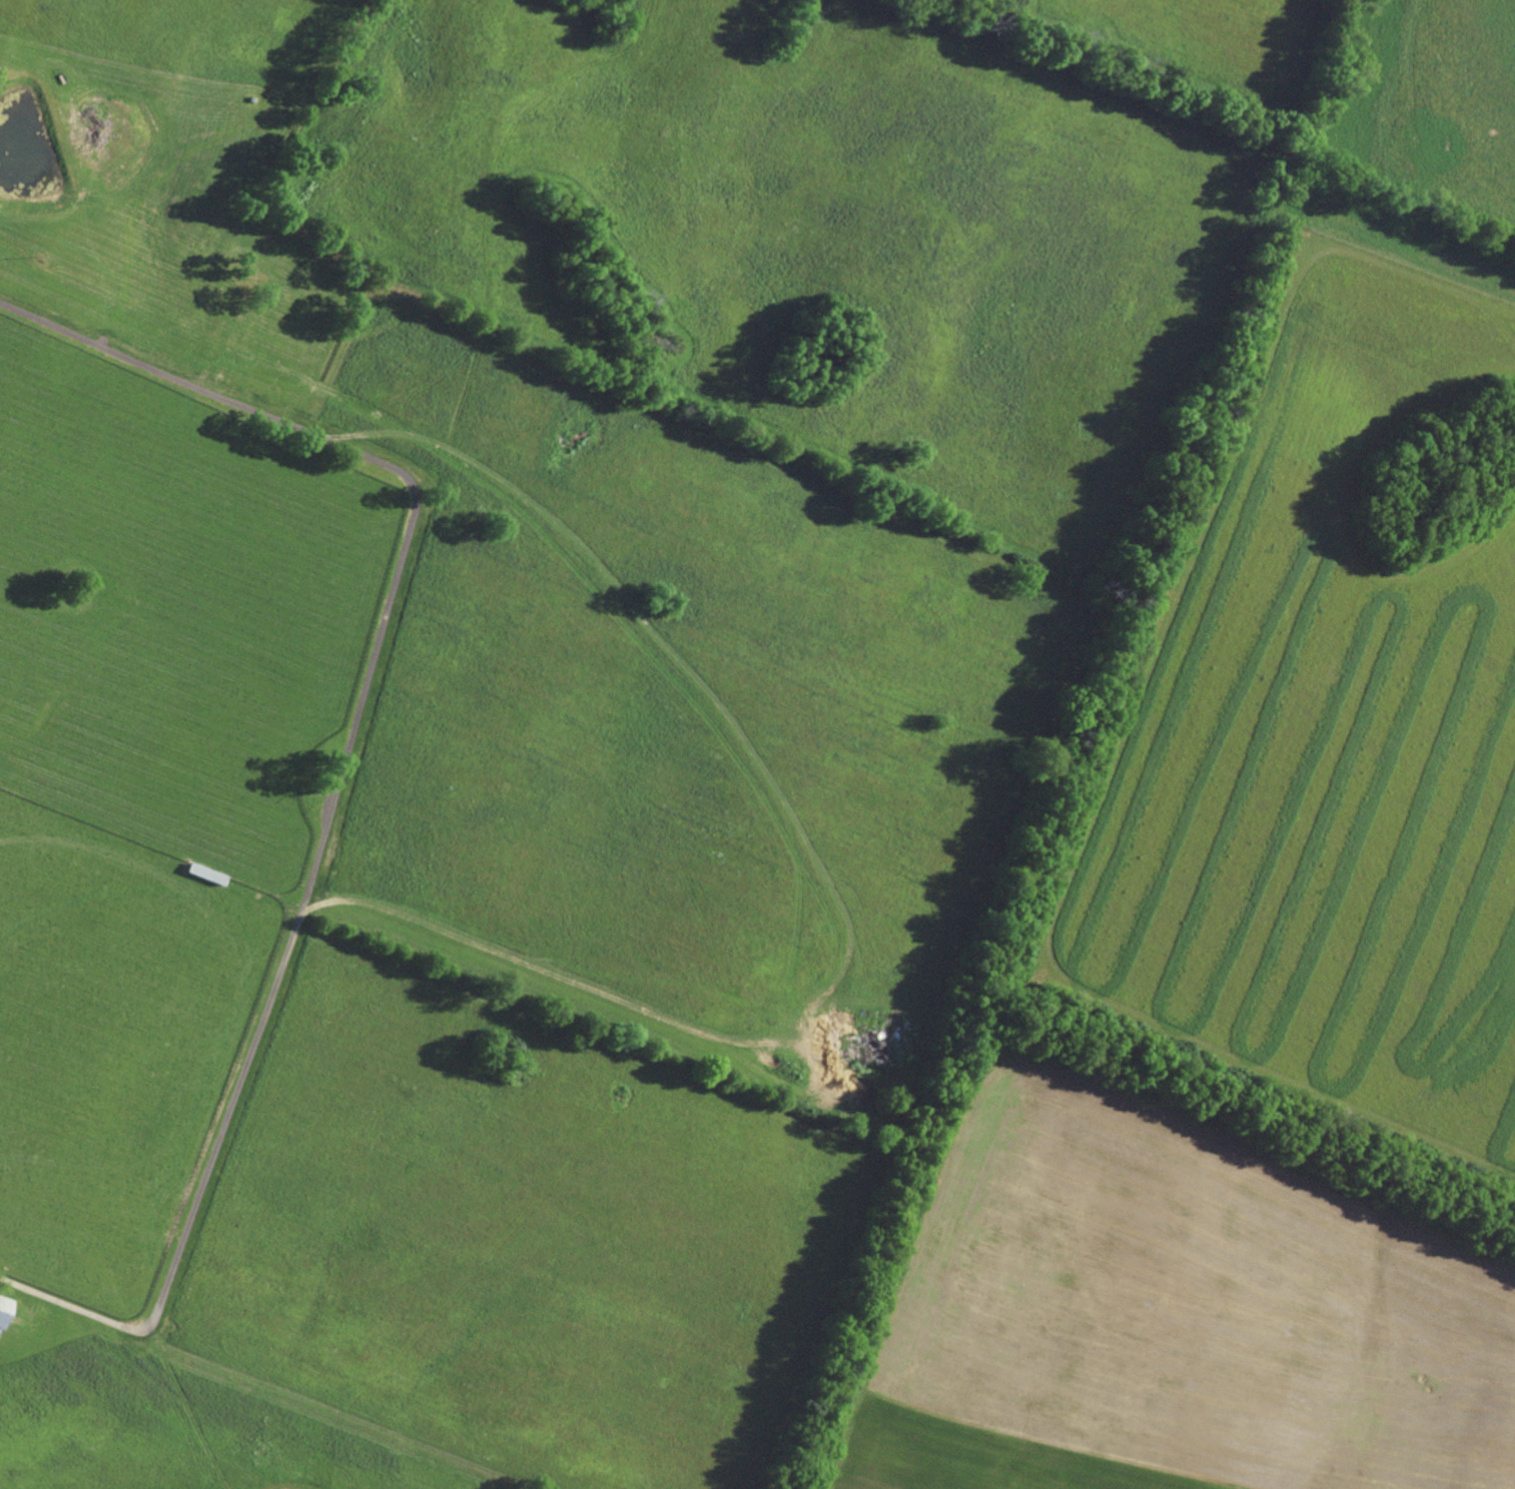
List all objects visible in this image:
road: (17, 305)
building: (3, 1308)

